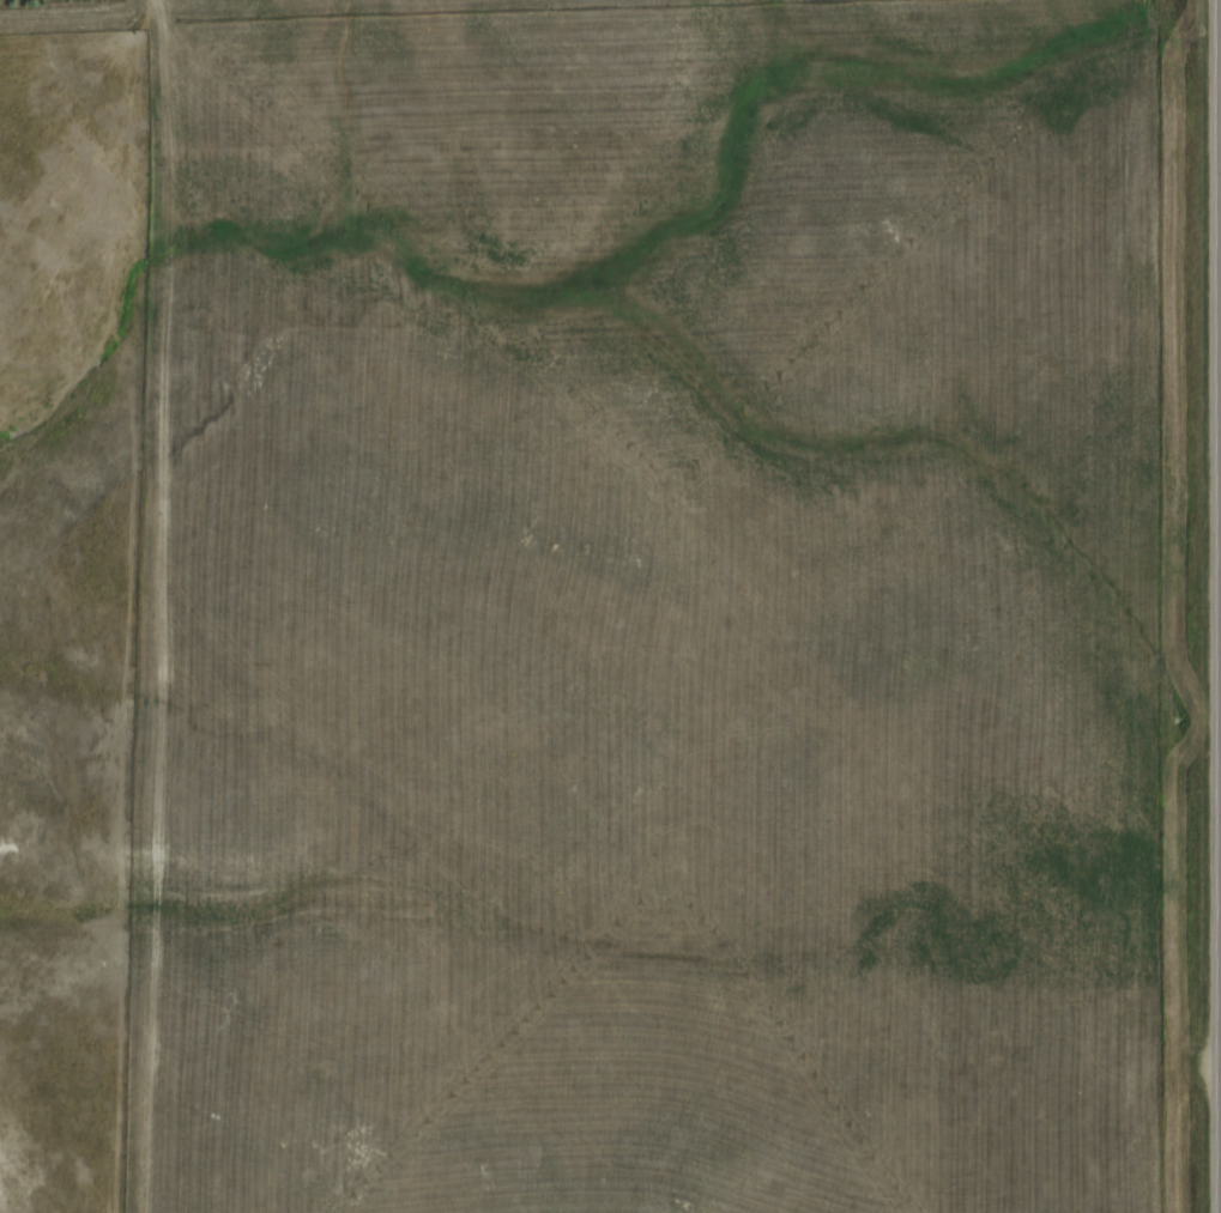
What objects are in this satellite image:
road: (1217, 606)

